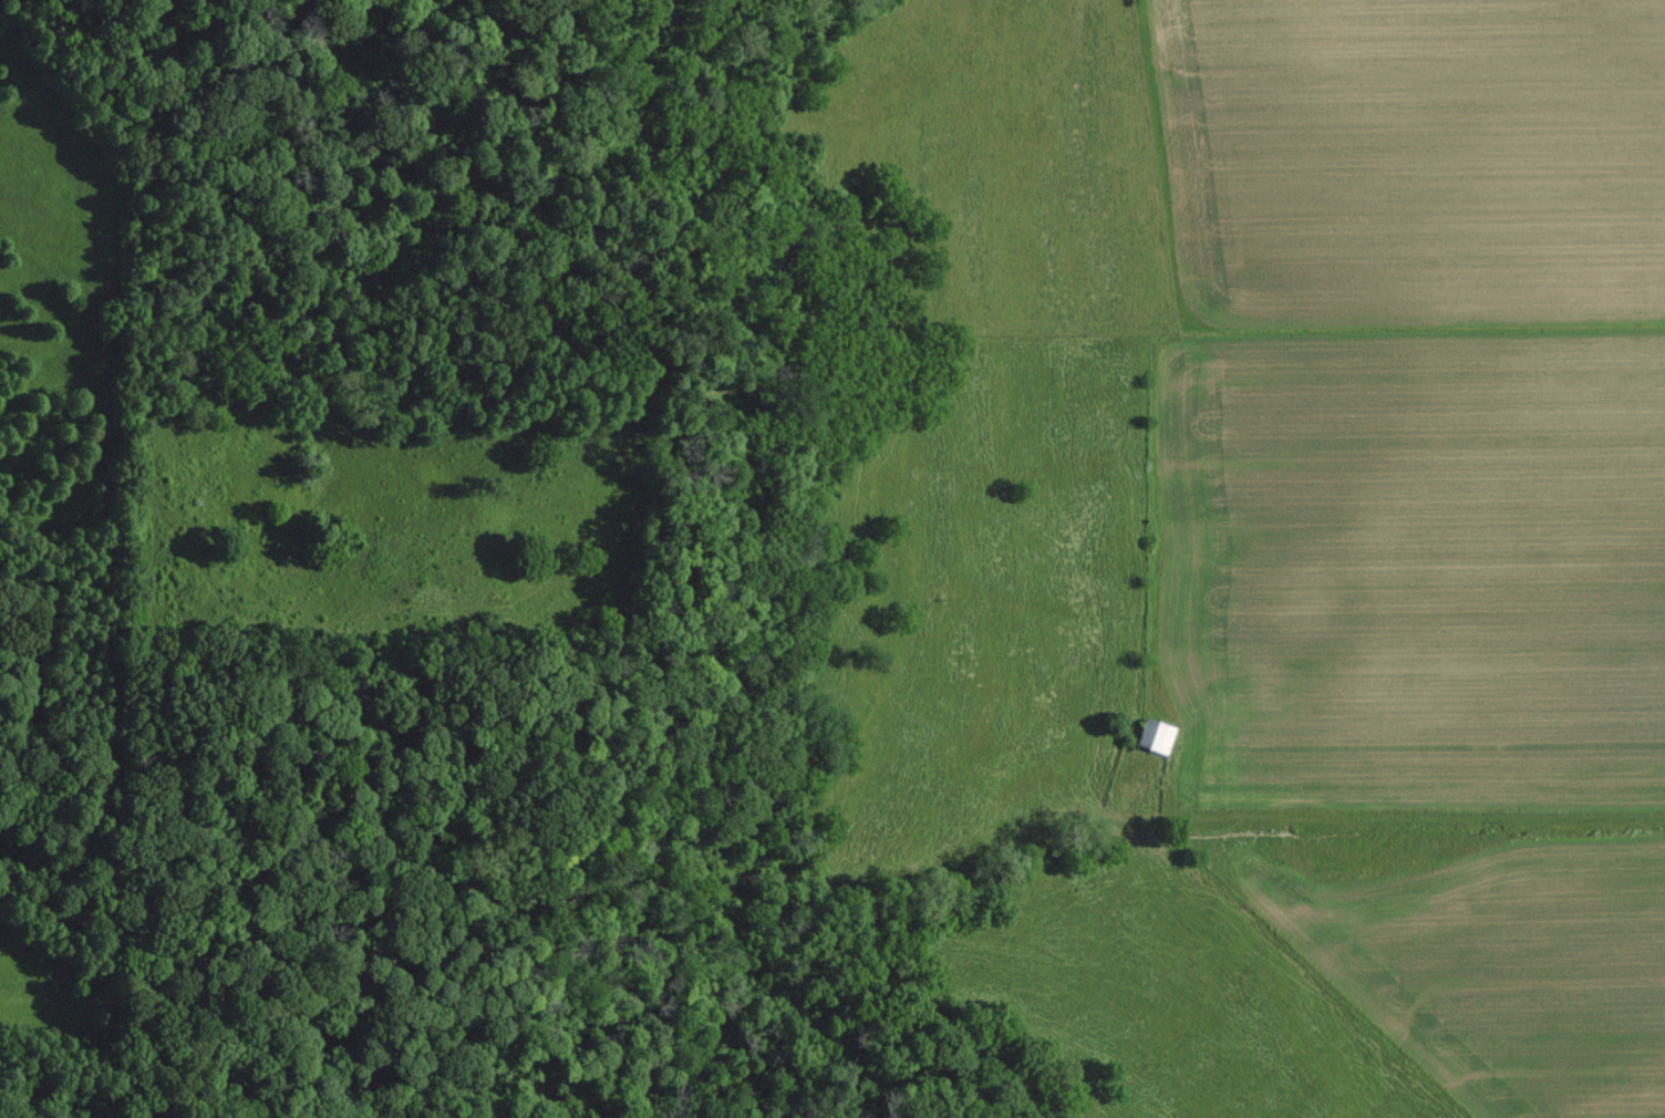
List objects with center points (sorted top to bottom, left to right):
building: (1155, 736)

